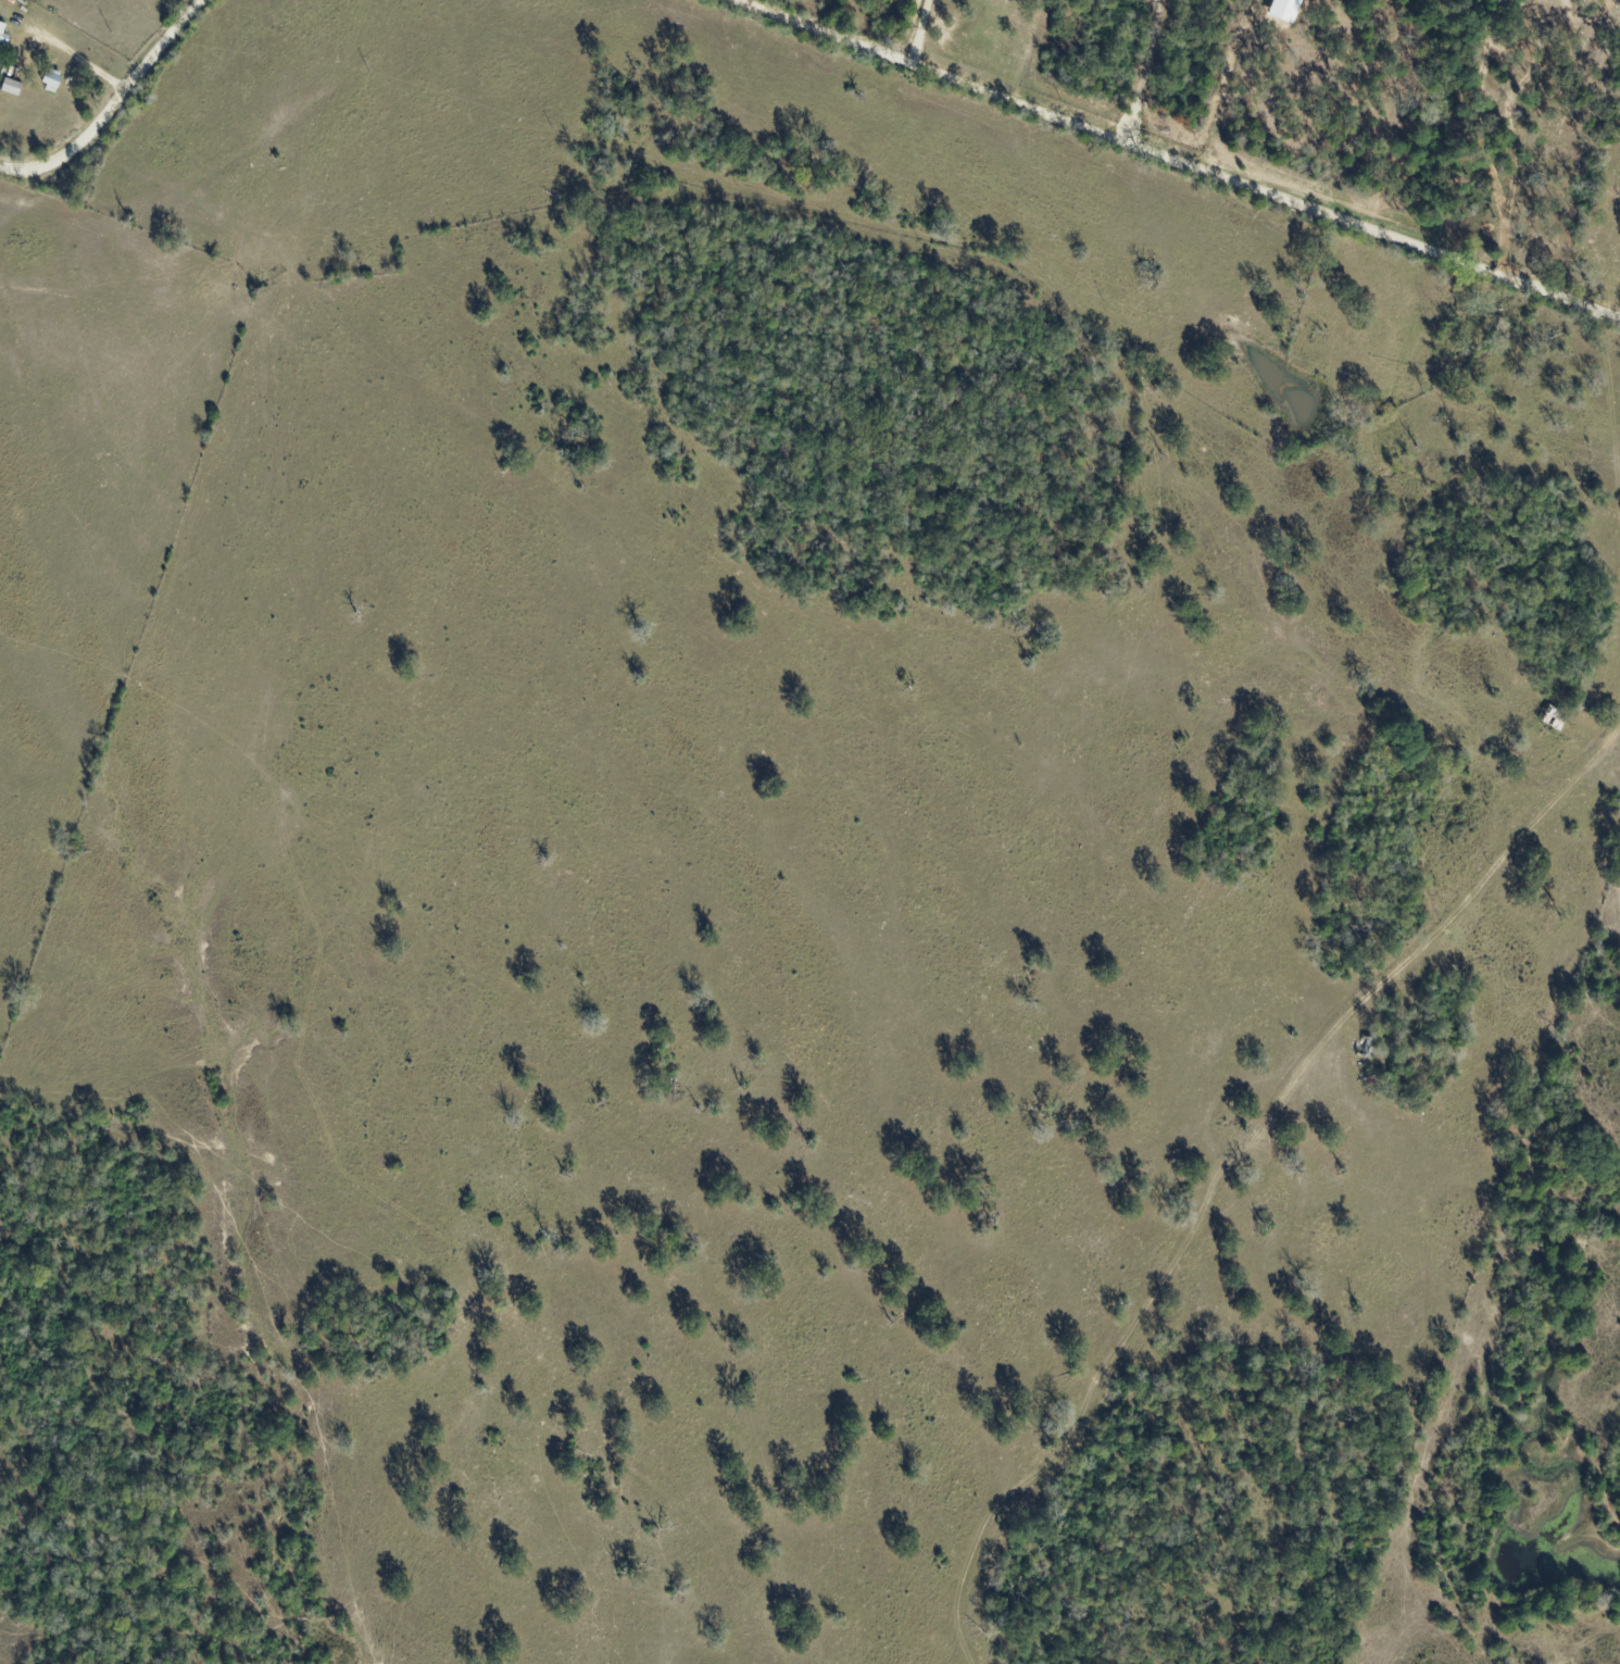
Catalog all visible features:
building: (2, 33)
building: (53, 80)
building: (13, 87)
road: (110, 104)
road: (1176, 160)

